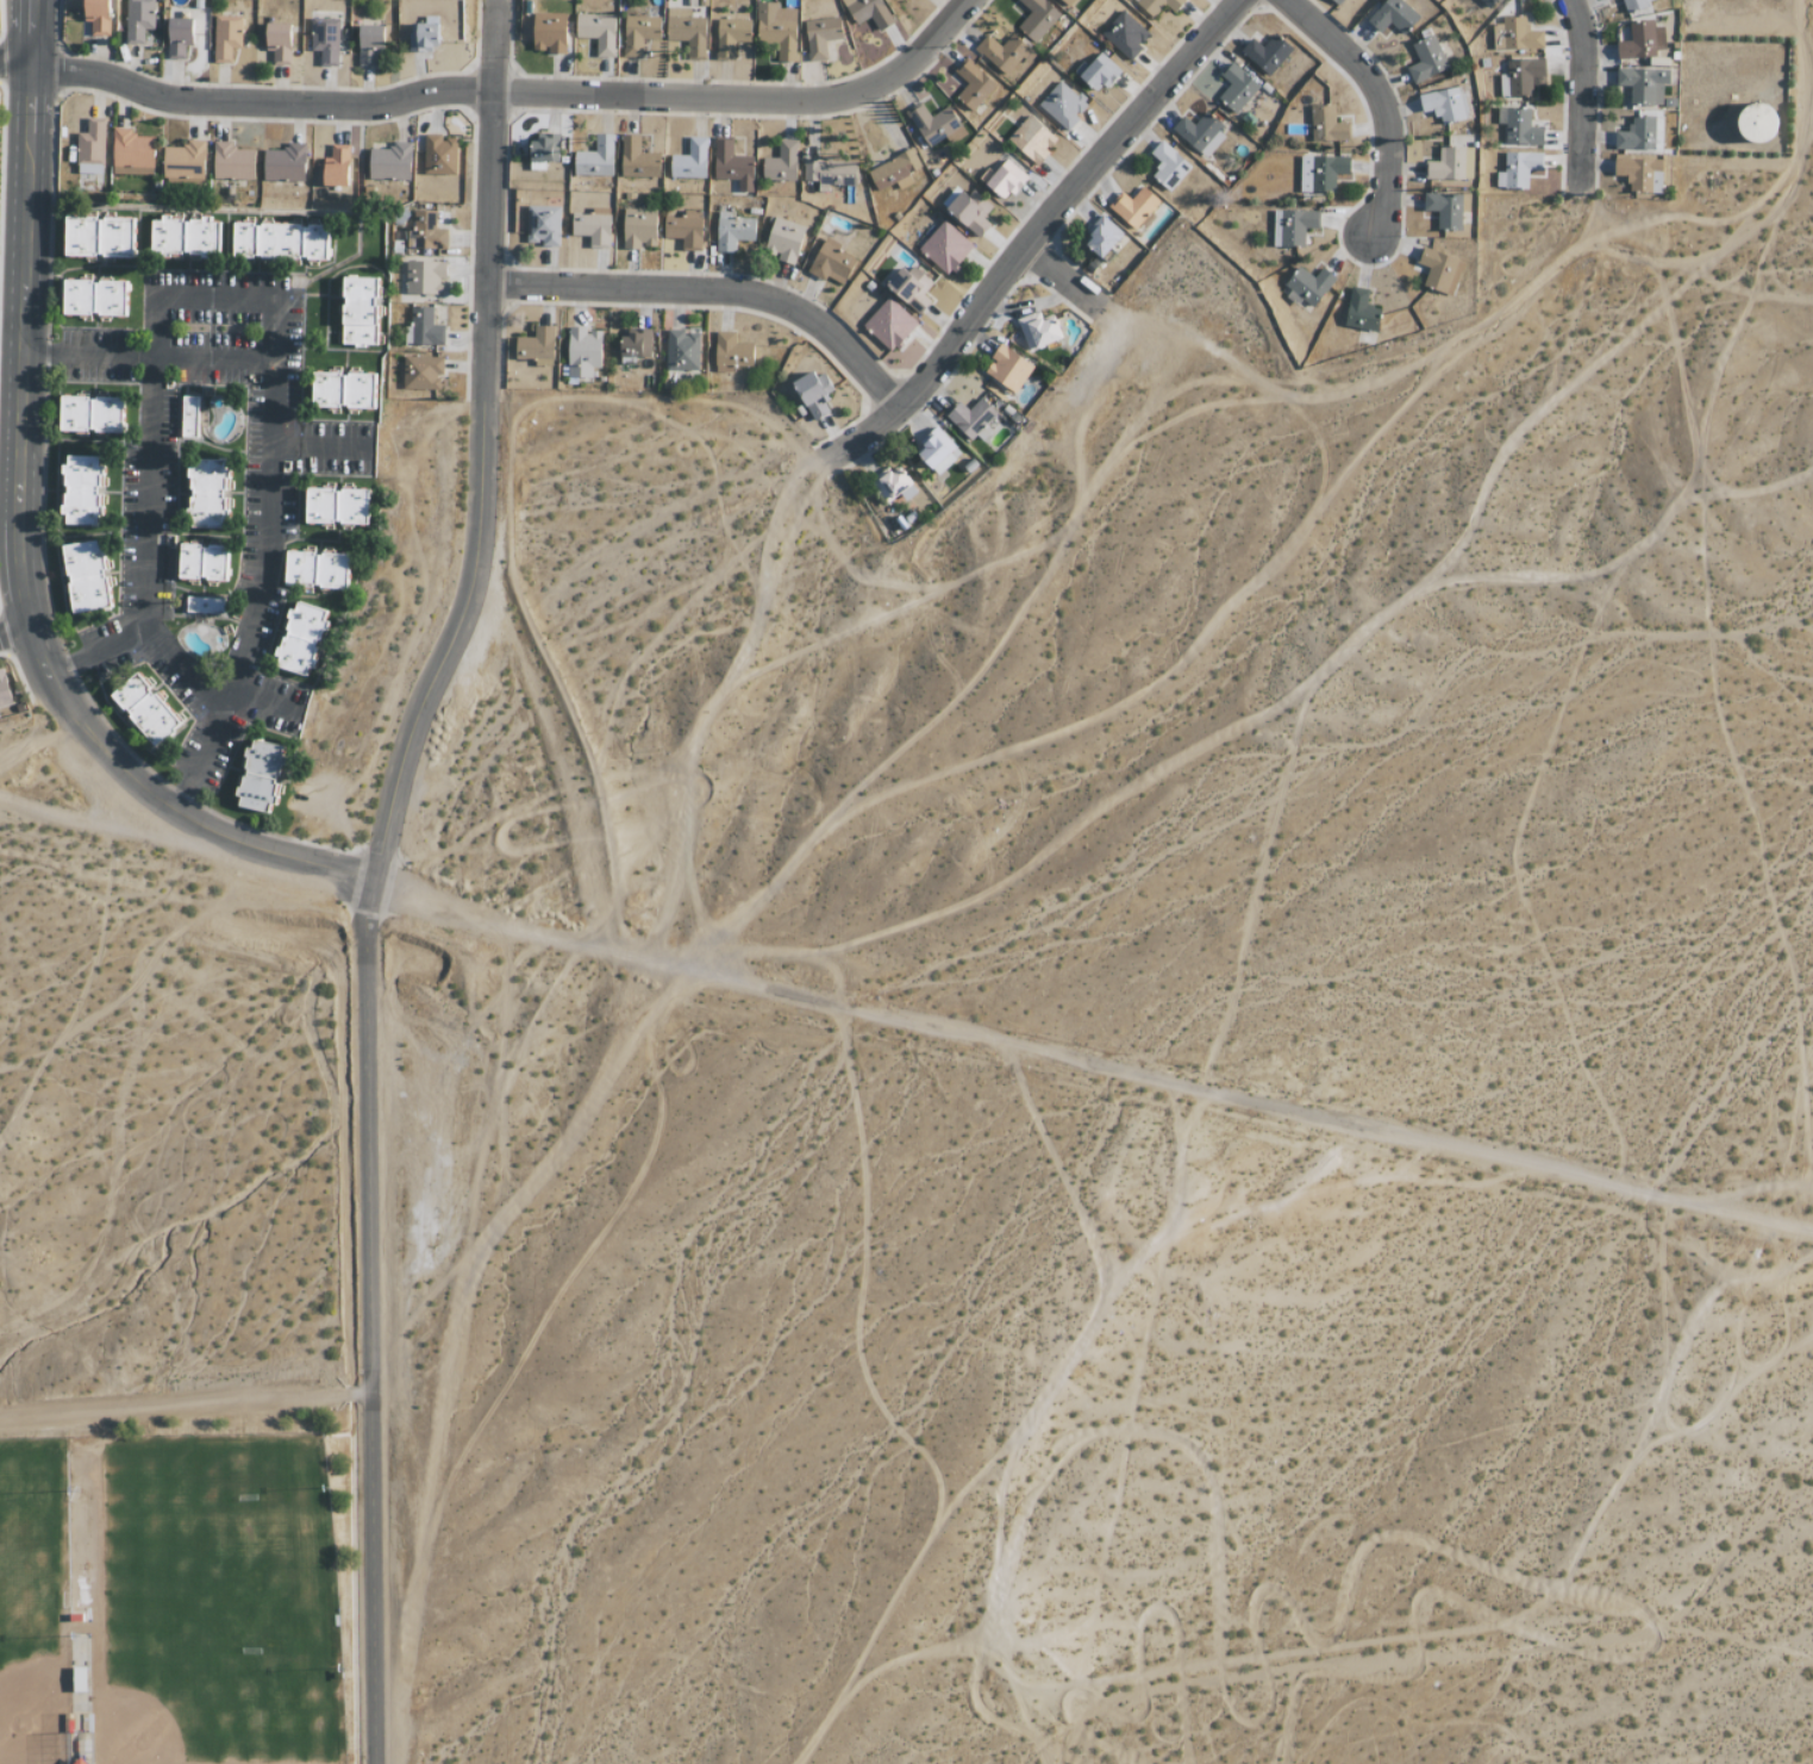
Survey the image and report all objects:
building: (1067, 1)
building: (1337, 1)
building: (1487, 2)
building: (1158, 5)
building: (1634, 5)
building: (869, 12)
building: (1393, 15)
building: (98, 17)
building: (1038, 18)
building: (138, 20)
building: (777, 29)
road: (32, 31)
building: (687, 31)
building: (550, 32)
building: (598, 32)
building: (639, 32)
building: (424, 35)
building: (1125, 35)
building: (1515, 35)
building: (732, 36)
building: (821, 36)
building: (179, 37)
building: (226, 37)
building: (325, 40)
building: (1642, 40)
building: (279, 42)
building: (369, 45)
building: (1267, 54)
building: (1426, 58)
building: (1098, 73)
building: (1520, 77)
road: (489, 83)
building: (973, 85)
building: (1644, 85)
building: (1237, 88)
road: (1581, 93)
building: (1063, 104)
road: (1381, 104)
building: (1446, 104)
building: (1759, 121)
building: (936, 125)
building: (1327, 125)
building: (1519, 126)
building: (1200, 132)
building: (1637, 135)
building: (1032, 139)
building: (90, 148)
building: (544, 149)
building: (131, 154)
building: (439, 156)
building: (595, 158)
building: (638, 158)
building: (690, 159)
building: (185, 161)
building: (232, 162)
building: (390, 162)
building: (781, 162)
building: (285, 163)
building: (1451, 164)
building: (732, 165)
building: (1169, 165)
building: (336, 167)
building: (894, 169)
building: (1518, 169)
building: (1321, 173)
building: (830, 174)
building: (1640, 174)
building: (1134, 206)
building: (1445, 208)
building: (970, 212)
building: (543, 225)
building: (1293, 226)
building: (639, 227)
building: (683, 227)
building: (593, 229)
building: (733, 231)
building: (425, 232)
road: (1033, 233)
building: (99, 236)
building: (183, 236)
building: (1104, 236)
building: (784, 239)
building: (280, 240)
building: (945, 248)
building: (831, 262)
building: (1440, 270)
building: (424, 276)
road: (1057, 277)
building: (1308, 286)
road: (712, 287)
building: (912, 287)
building: (94, 296)
building: (360, 311)
building: (1362, 312)
building: (889, 324)
building: (423, 327)
building: (1038, 331)
building: (636, 345)
building: (537, 346)
building: (682, 350)
building: (583, 351)
building: (731, 352)
road: (212, 358)
building: (1008, 368)
building: (421, 373)
building: (344, 389)
building: (813, 393)
road: (268, 412)
building: (90, 413)
building: (189, 417)
building: (971, 418)
road: (317, 448)
road: (482, 449)
building: (938, 450)
building: (896, 486)
building: (81, 490)
building: (207, 495)
building: (337, 506)
road: (152, 543)
building: (202, 562)
building: (317, 569)
road: (21, 570)
building: (86, 576)
building: (202, 605)
road: (15, 630)
building: (301, 638)
road: (179, 670)
building: (4, 692)
road: (263, 702)
building: (145, 709)
building: (260, 776)
road: (905, 1006)
road: (363, 1322)
building: (79, 1678)
building: (81, 1760)

